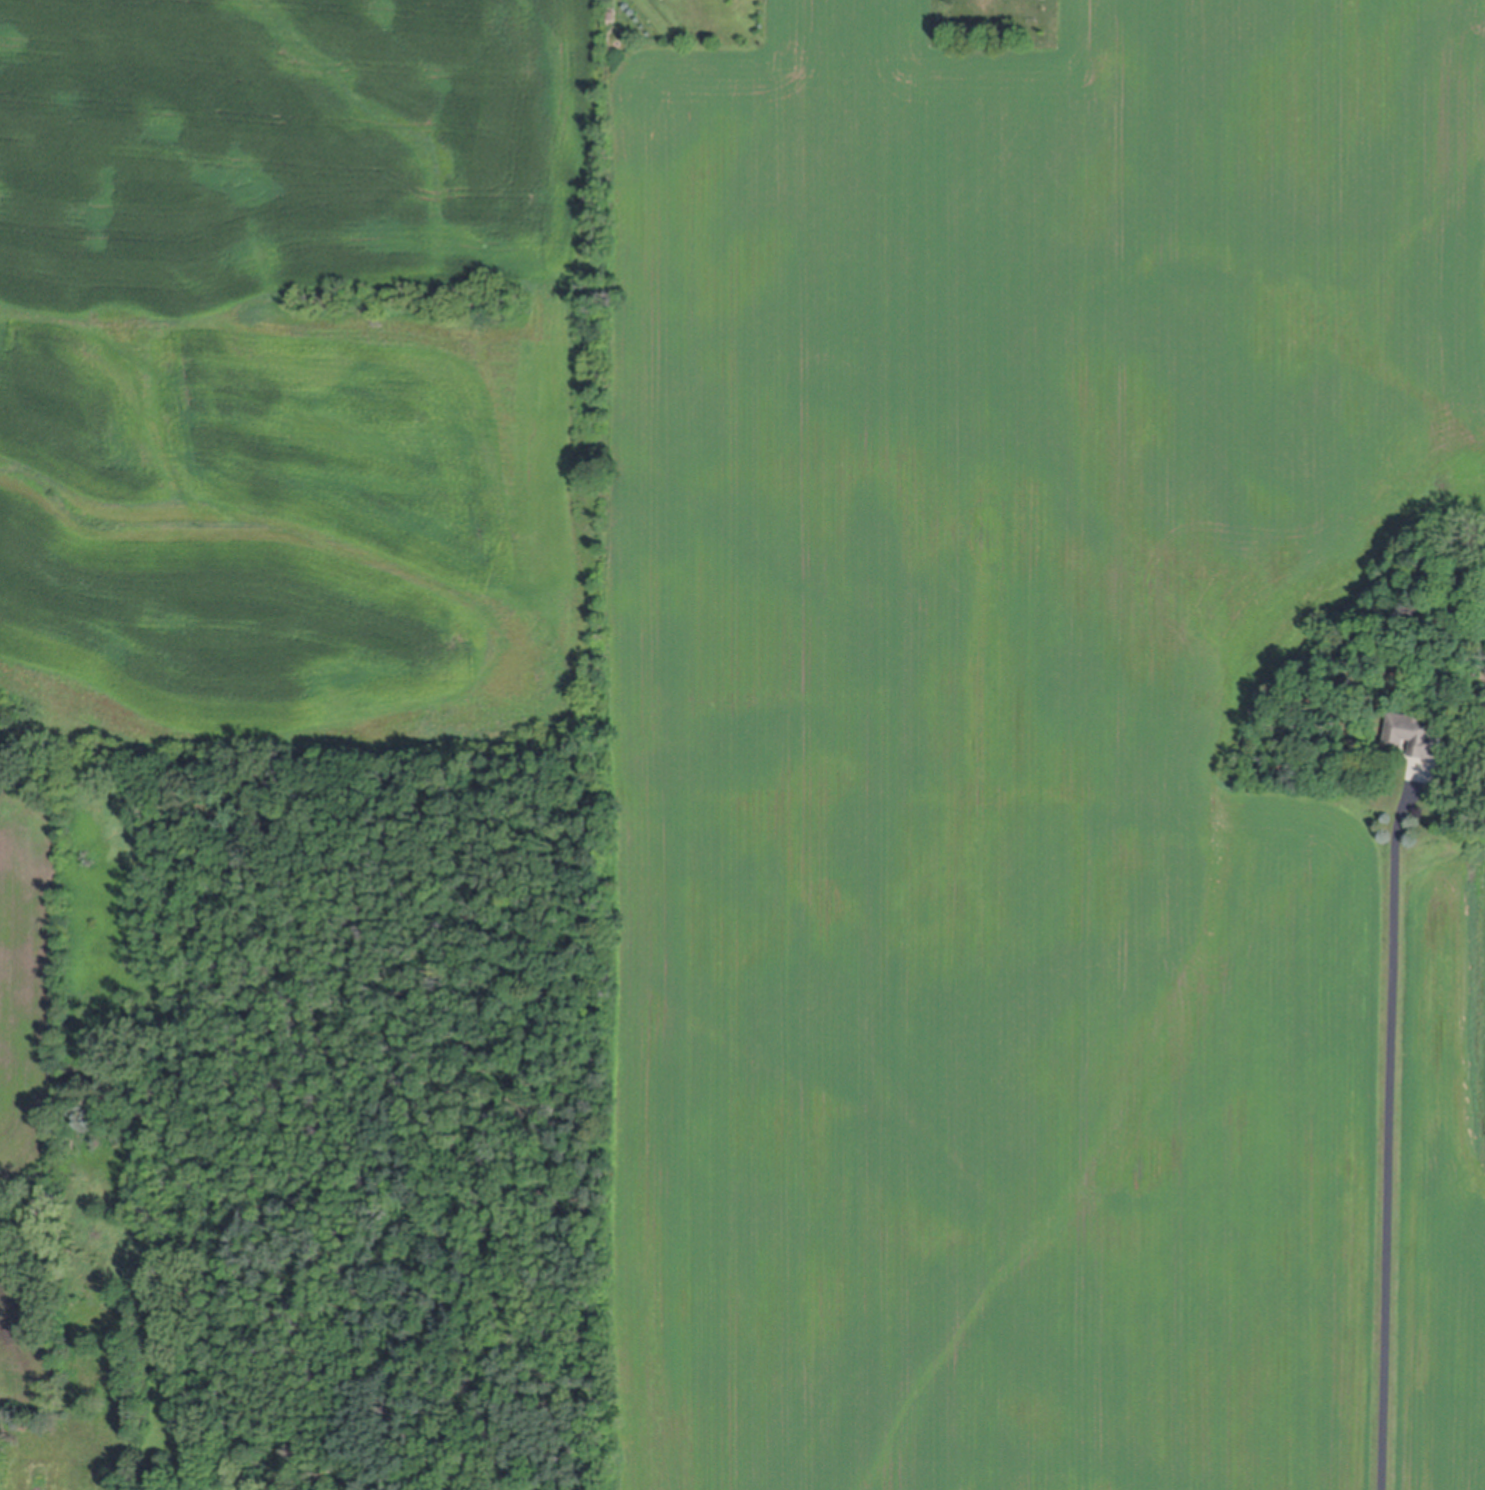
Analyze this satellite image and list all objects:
building: (612, 16)
building: (1416, 739)
road: (1391, 1130)

